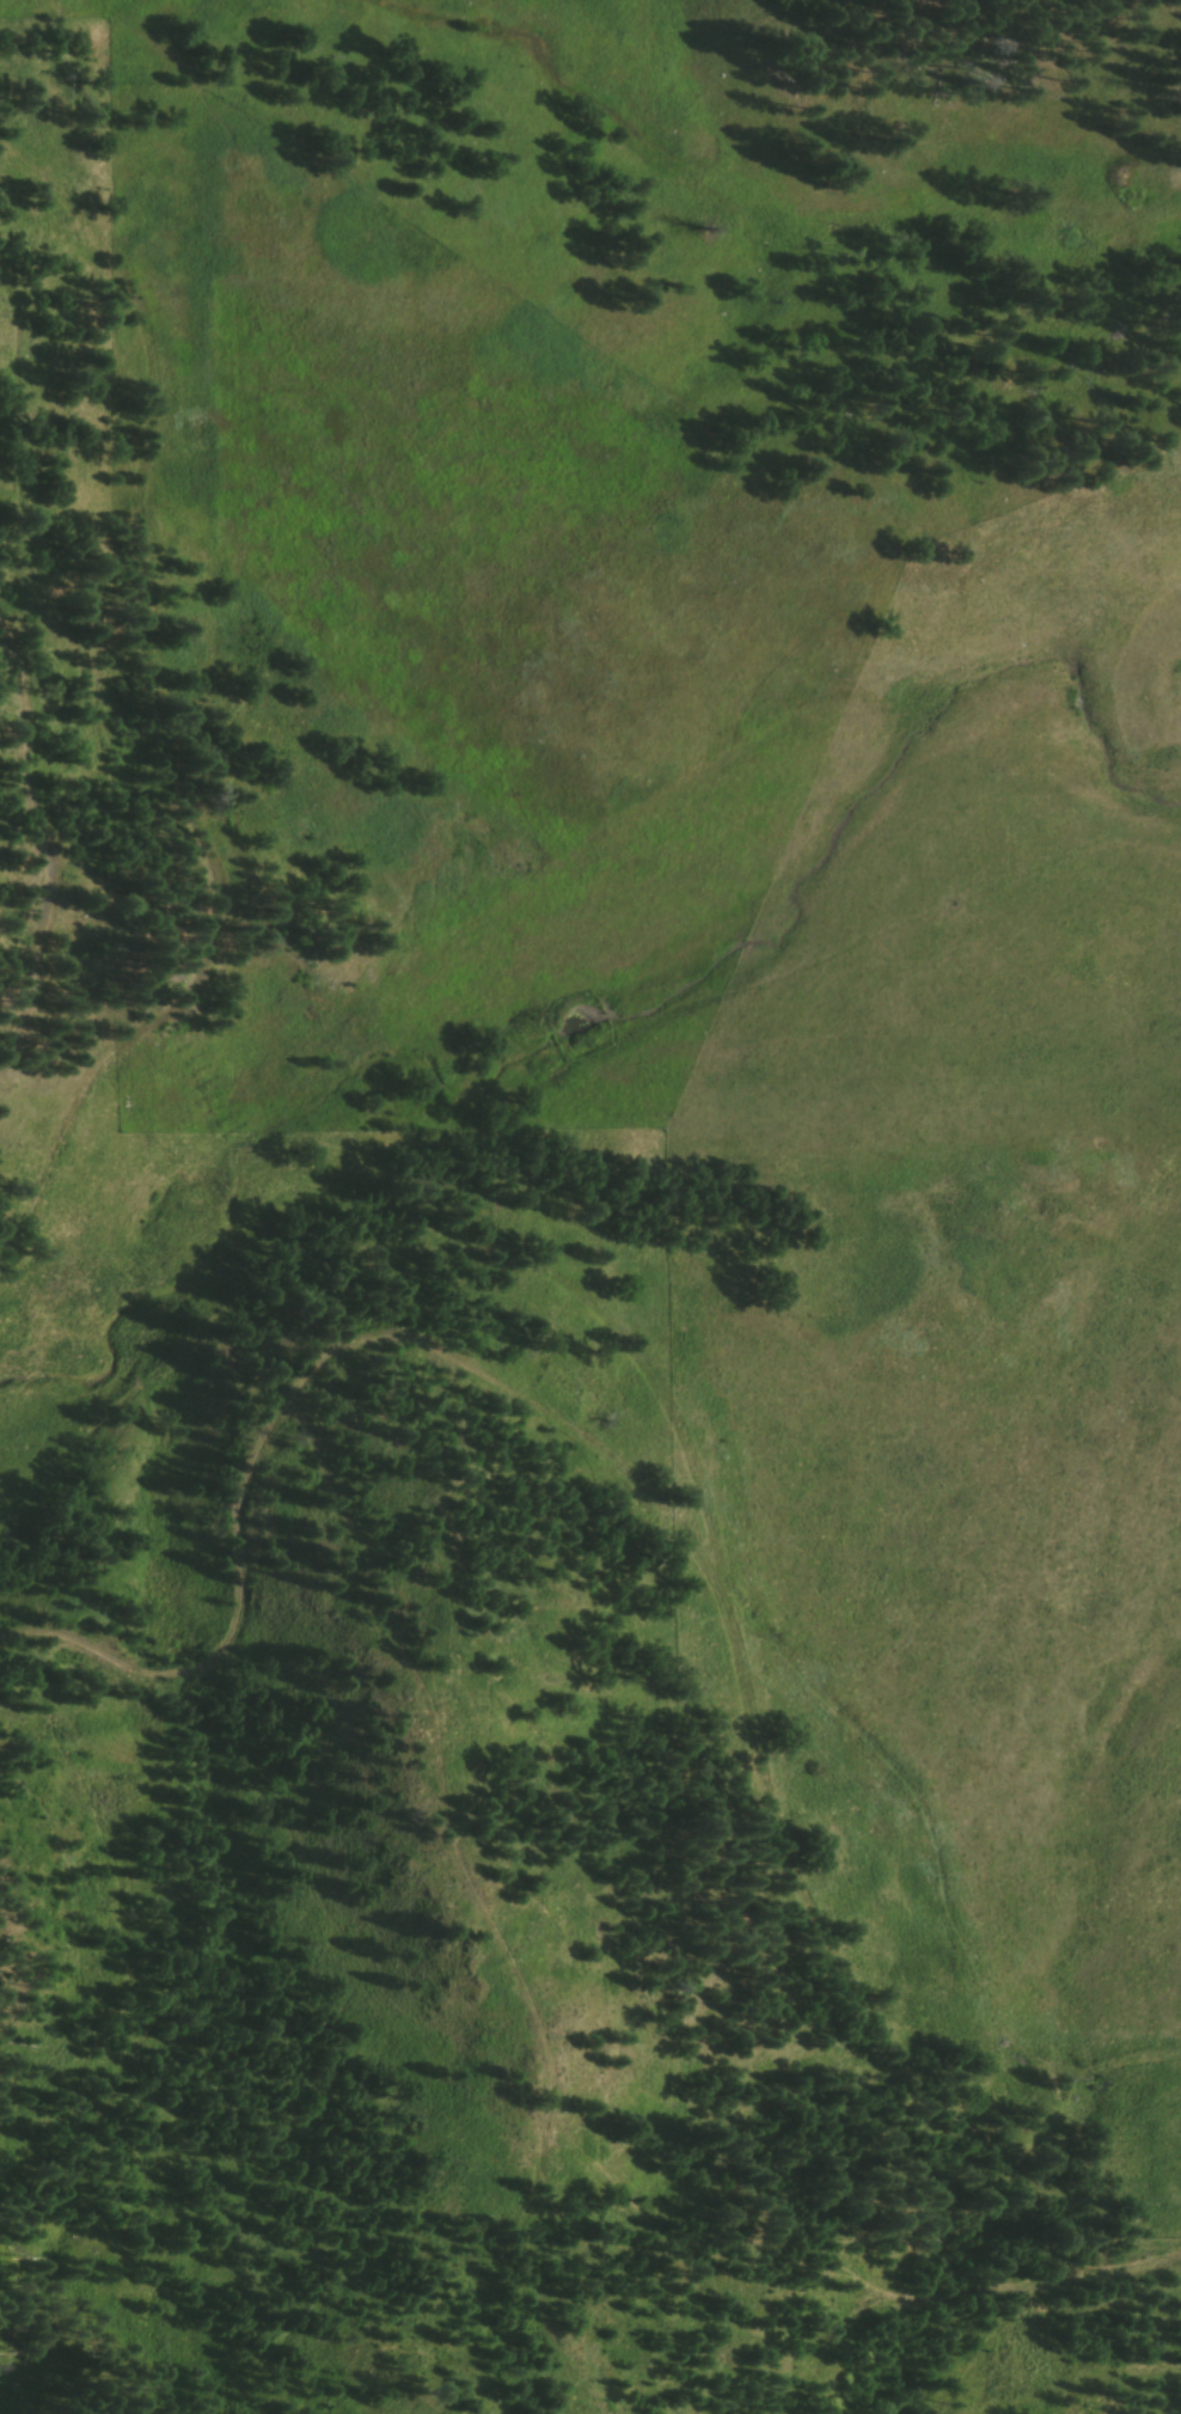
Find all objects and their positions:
road: (102, 748)
road: (50, 858)
road: (394, 1606)
road: (528, 1729)
road: (1036, 2293)
road: (536, 2294)

